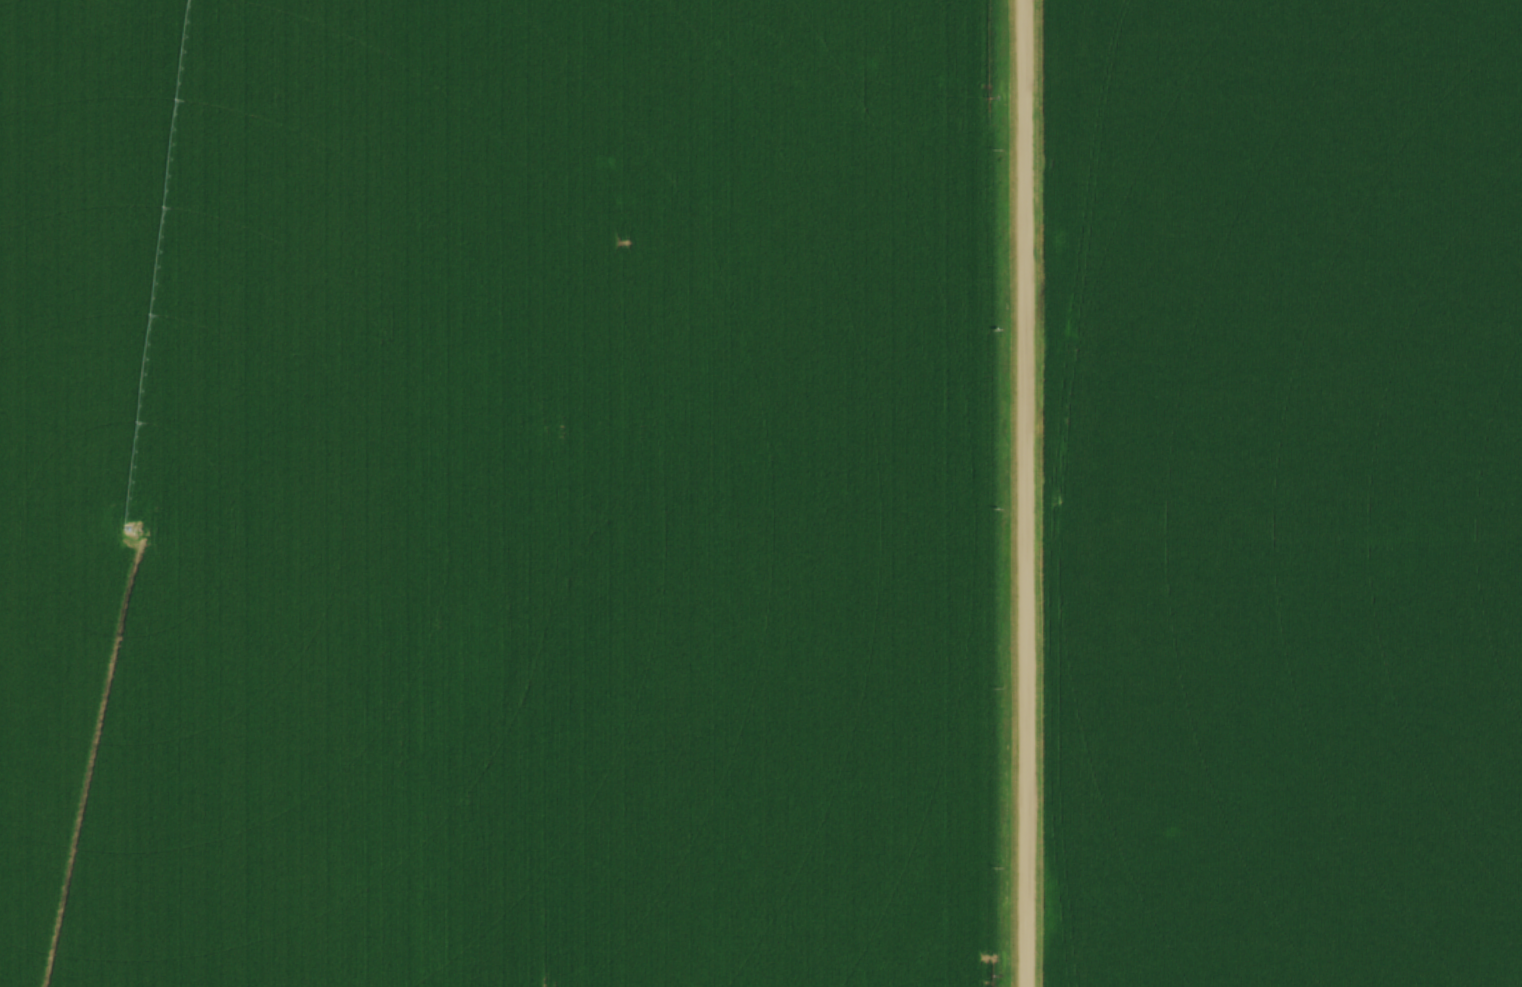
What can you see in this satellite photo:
road: (1016, 493)
building: (1242, 534)

